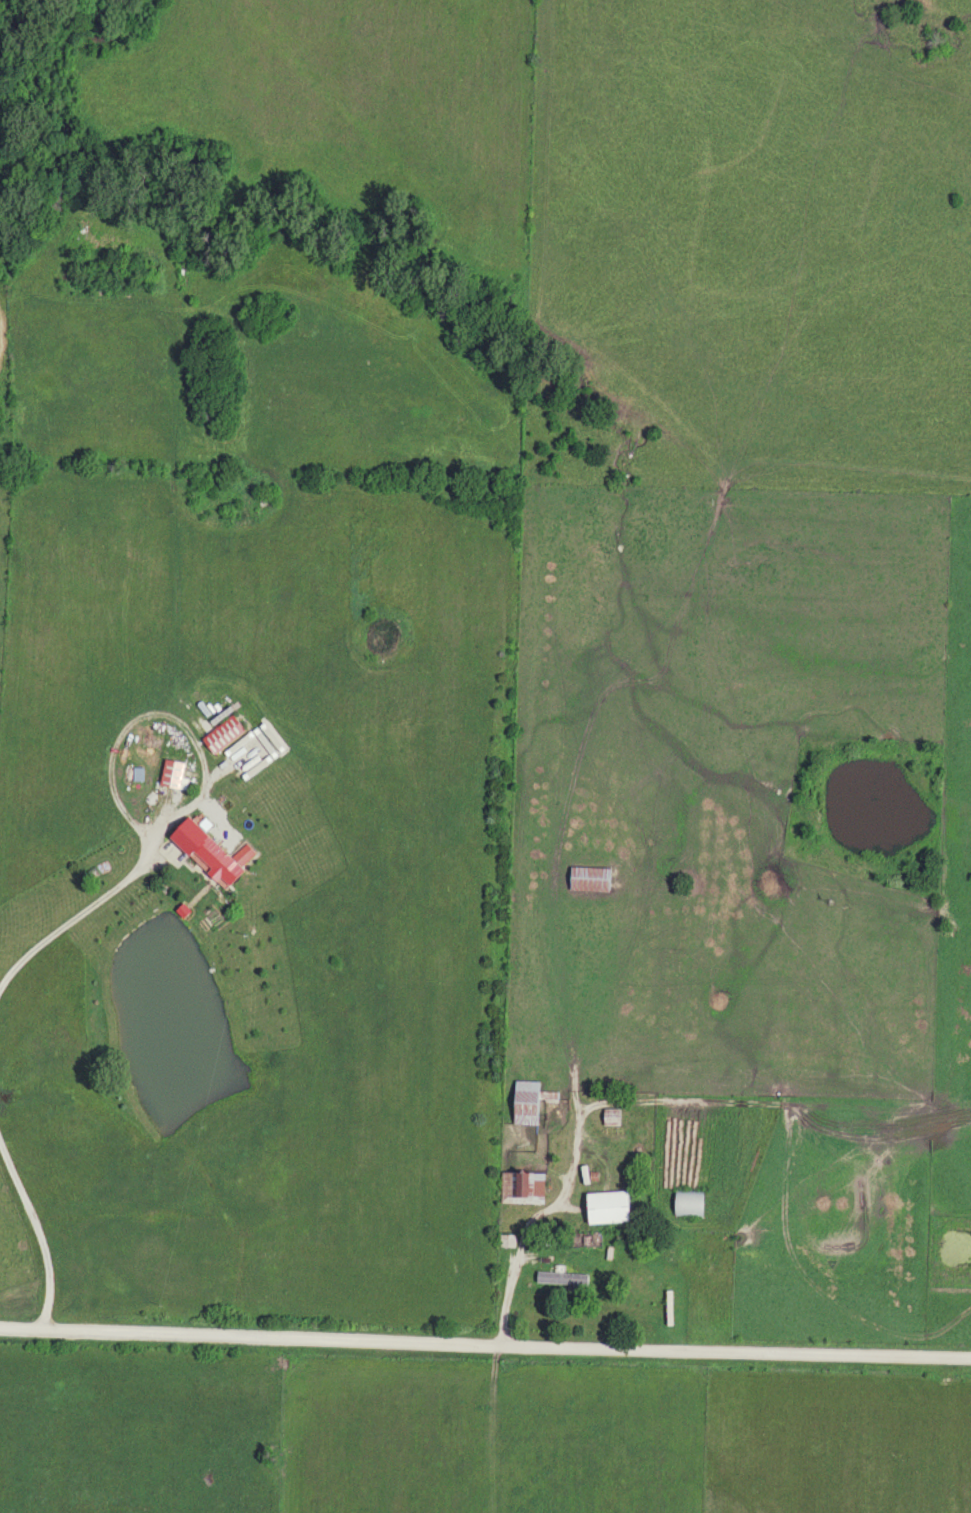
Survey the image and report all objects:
road: (160, 703)
building: (199, 851)
building: (587, 879)
road: (75, 906)
building: (526, 1101)
building: (610, 1117)
building: (520, 1187)
building: (604, 1207)
road: (535, 1221)
road: (39, 1224)
road: (484, 1349)

